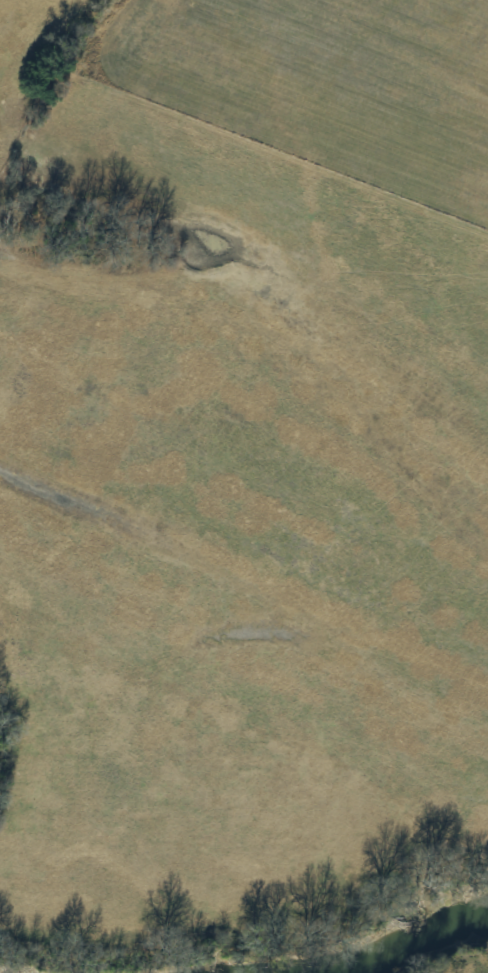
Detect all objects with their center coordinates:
river: (414, 932)

